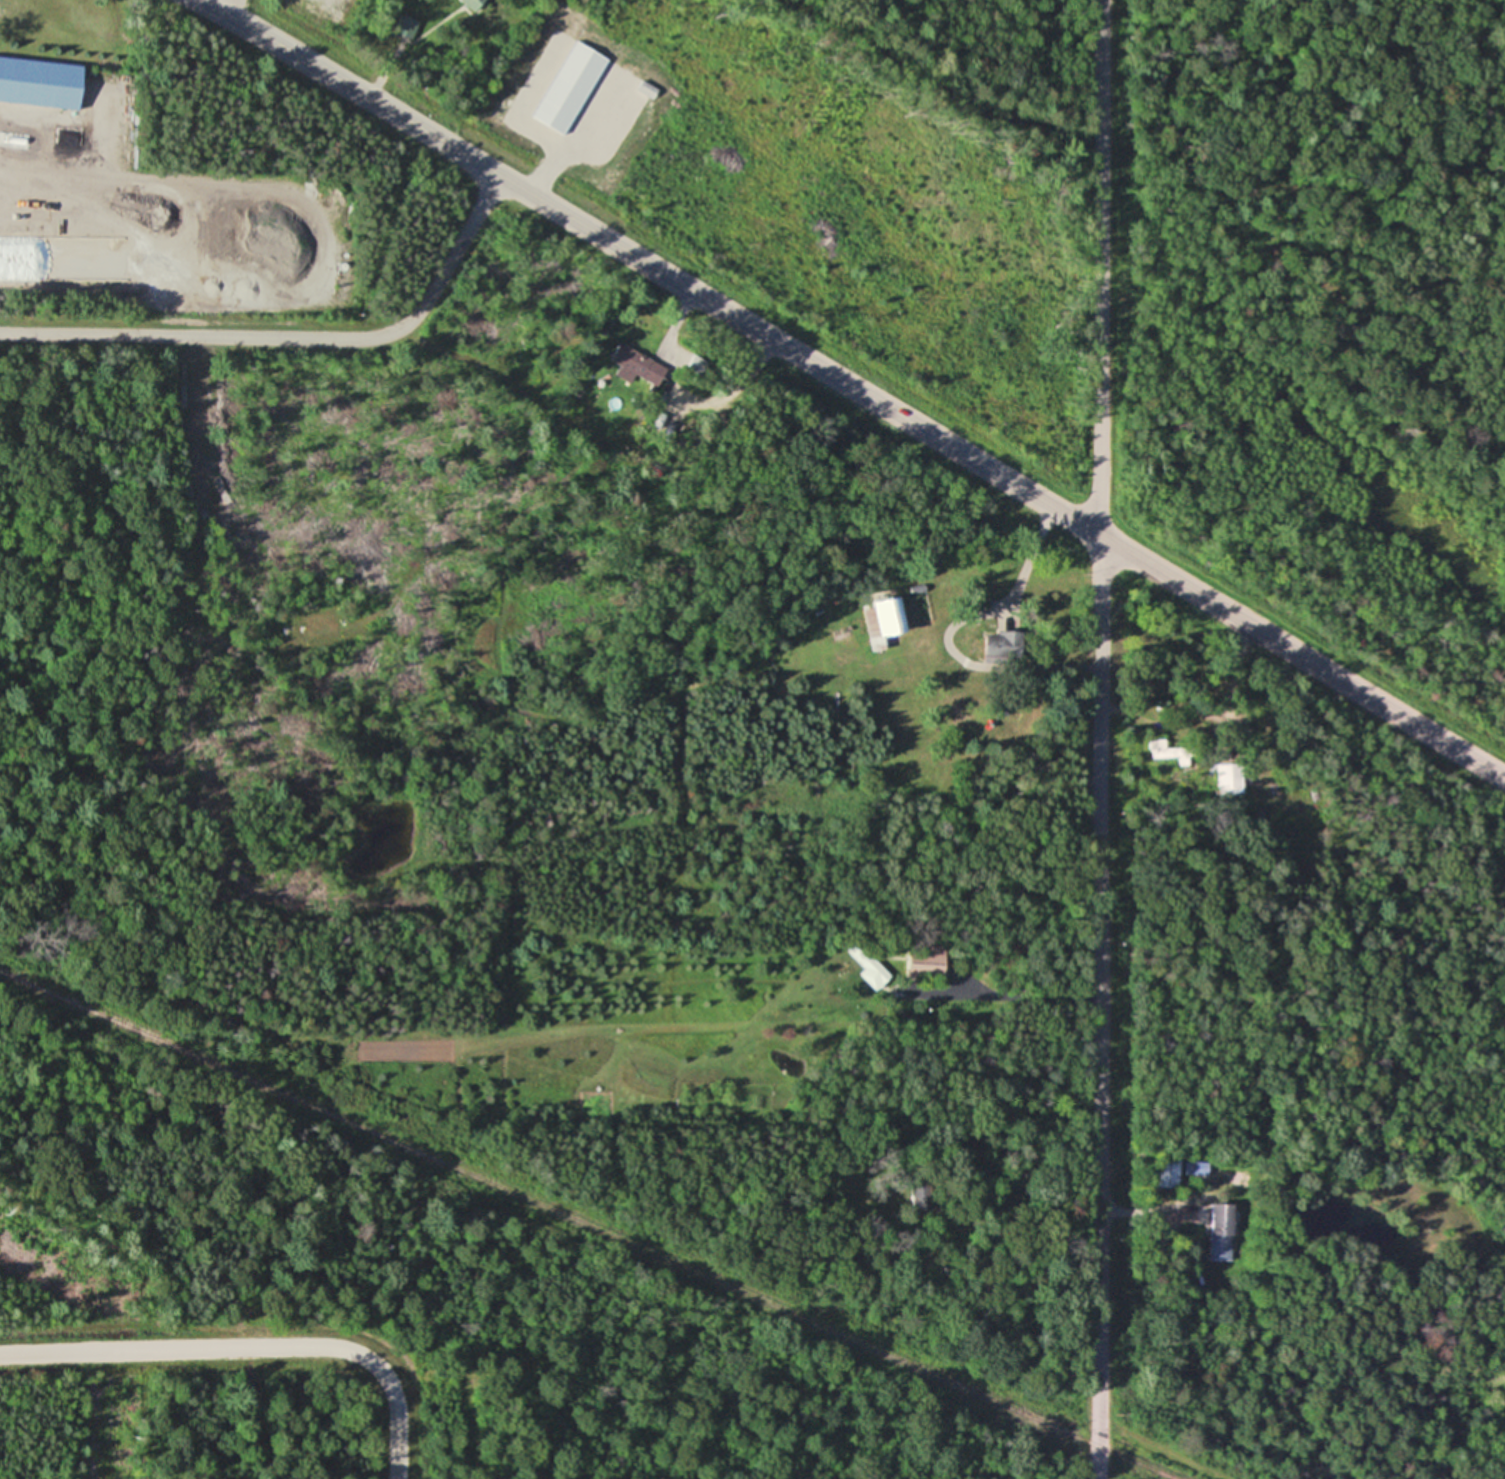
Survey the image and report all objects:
building: (473, 3)
road: (231, 8)
building: (40, 82)
road: (292, 337)
building: (625, 375)
road: (852, 386)
road: (1028, 556)
building: (885, 617)
building: (1003, 647)
road: (1100, 739)
building: (1166, 749)
building: (1233, 778)
building: (928, 963)
building: (870, 966)
road: (1010, 997)
building: (1168, 1170)
road: (1135, 1213)
railway: (587, 1226)
building: (1217, 1229)

